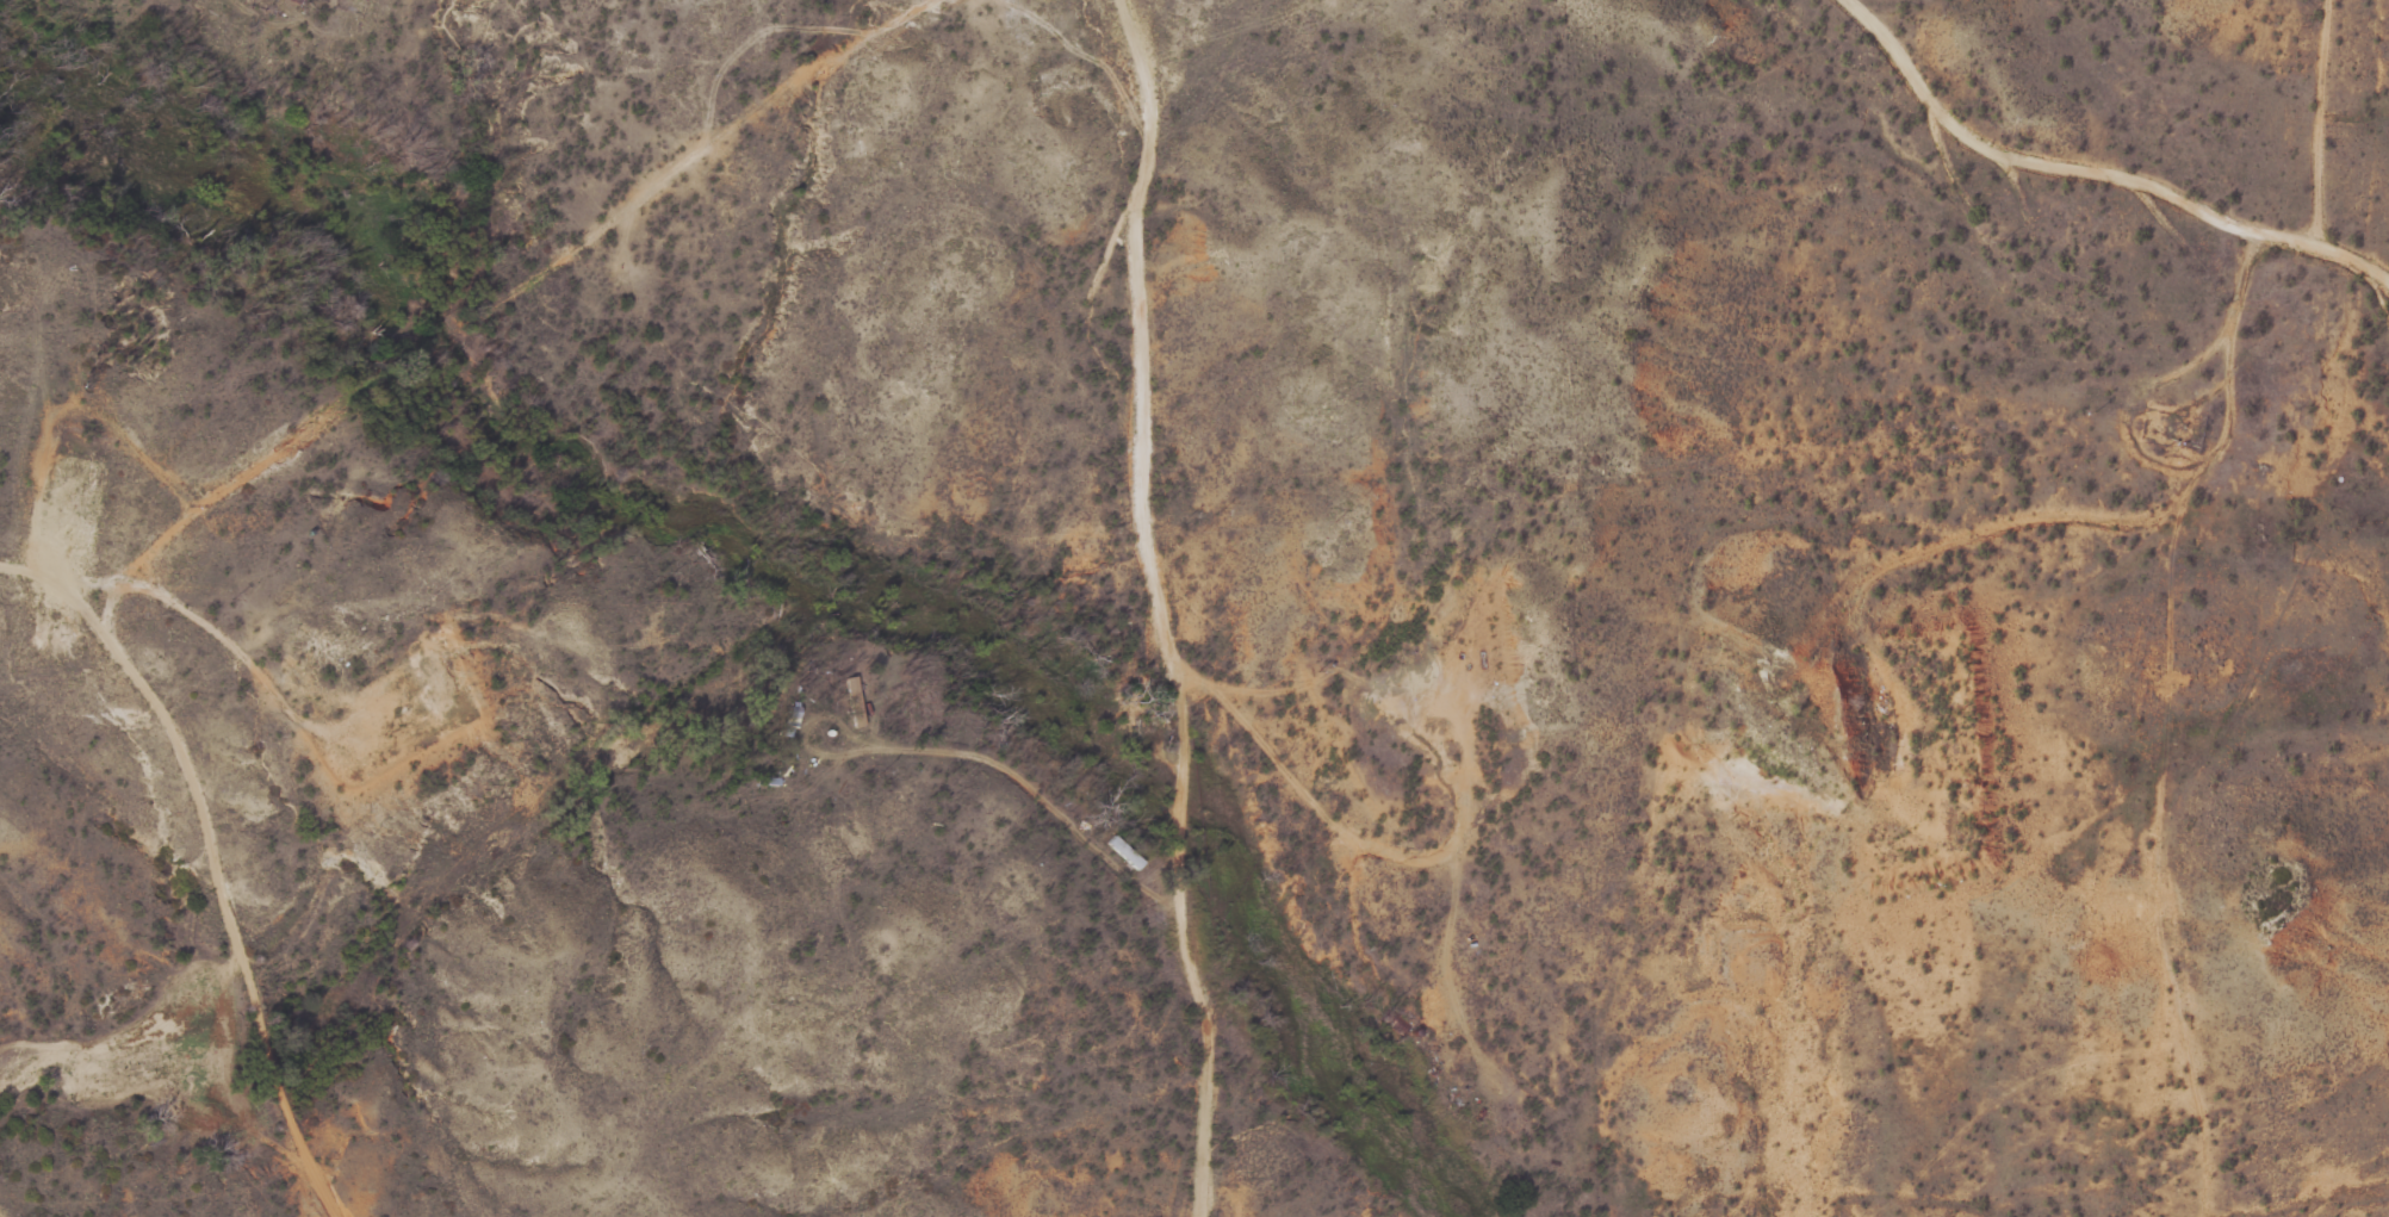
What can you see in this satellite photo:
building: (1125, 851)

